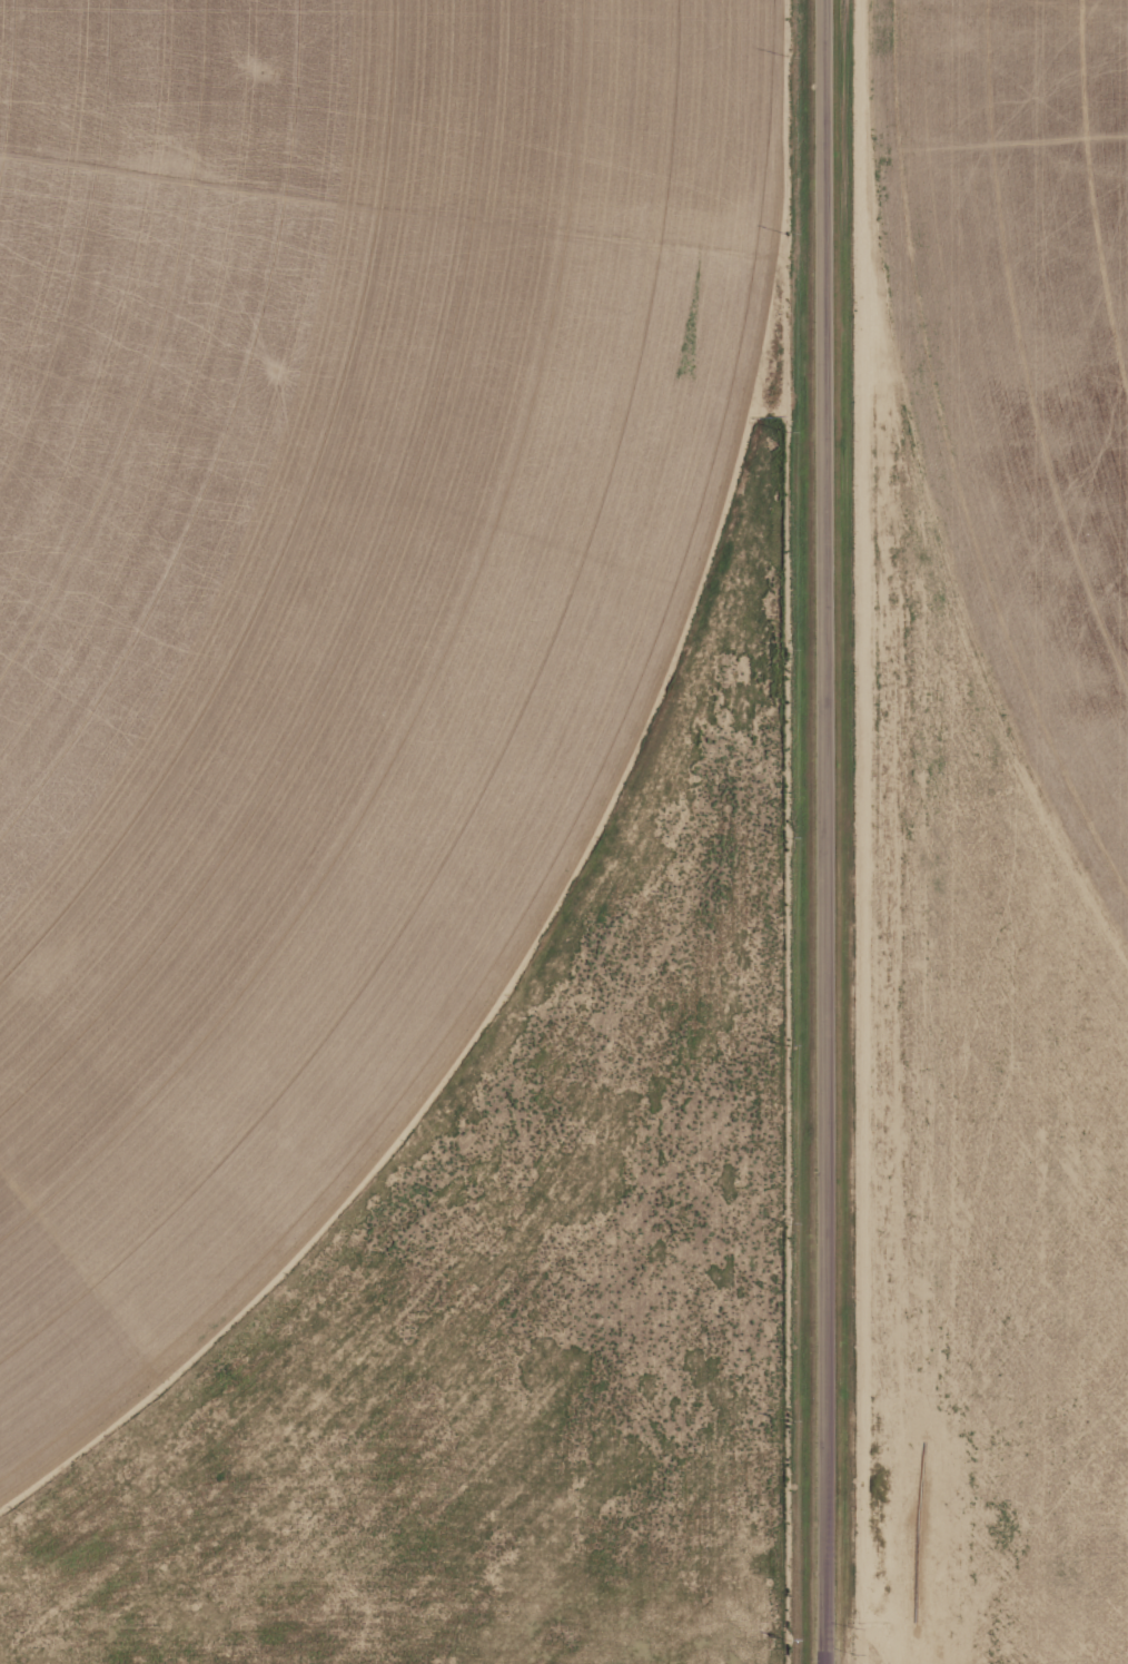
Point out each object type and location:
road: (824, 831)

